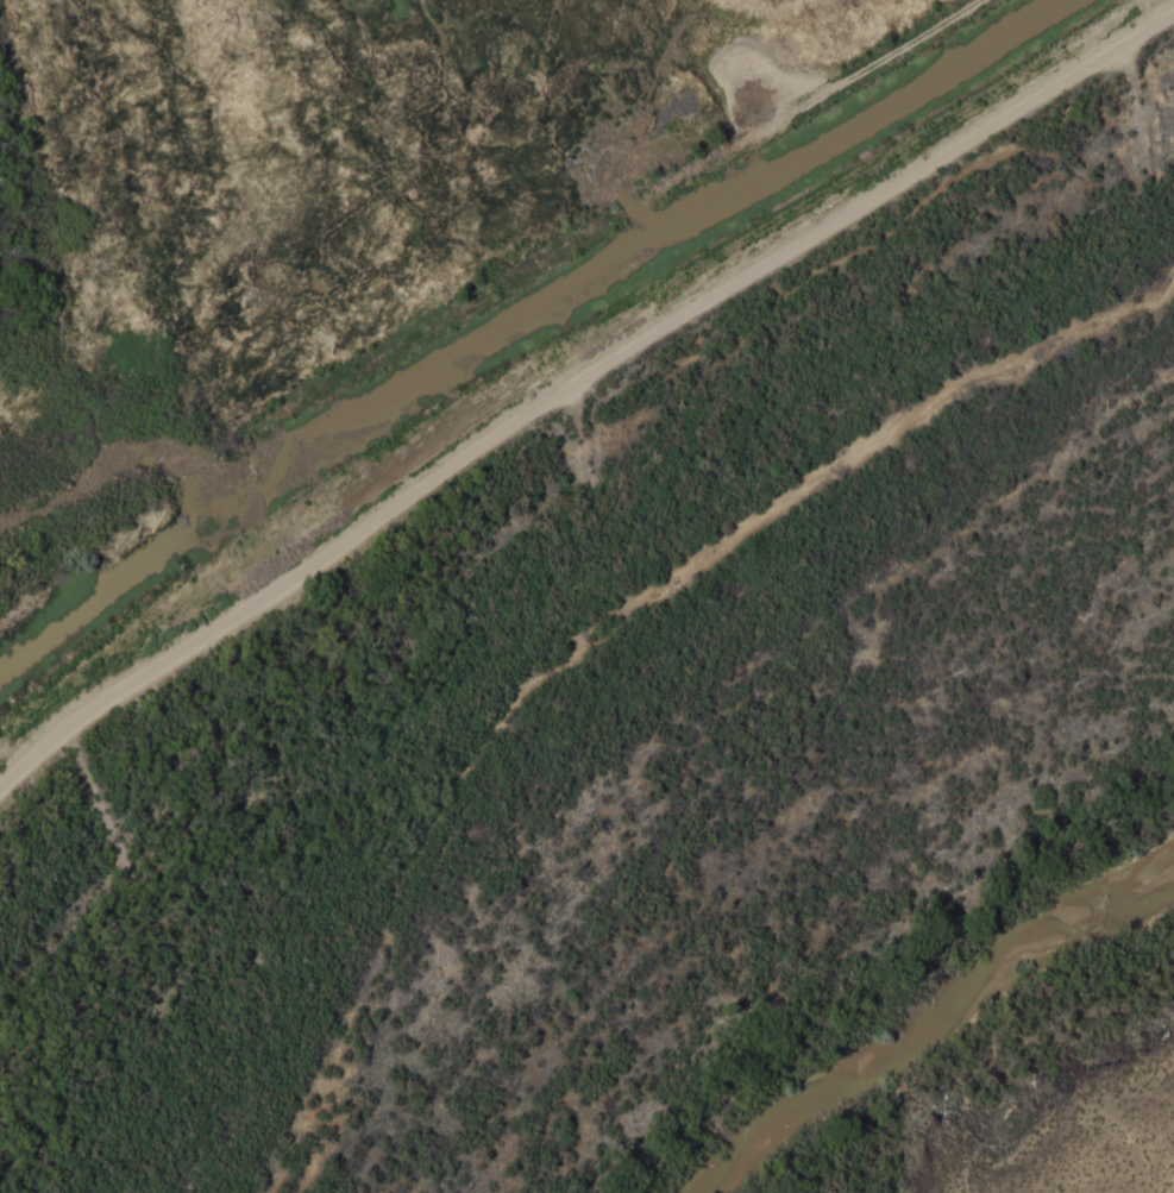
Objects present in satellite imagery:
road: (806, 98)
road: (578, 388)
river: (927, 1018)

